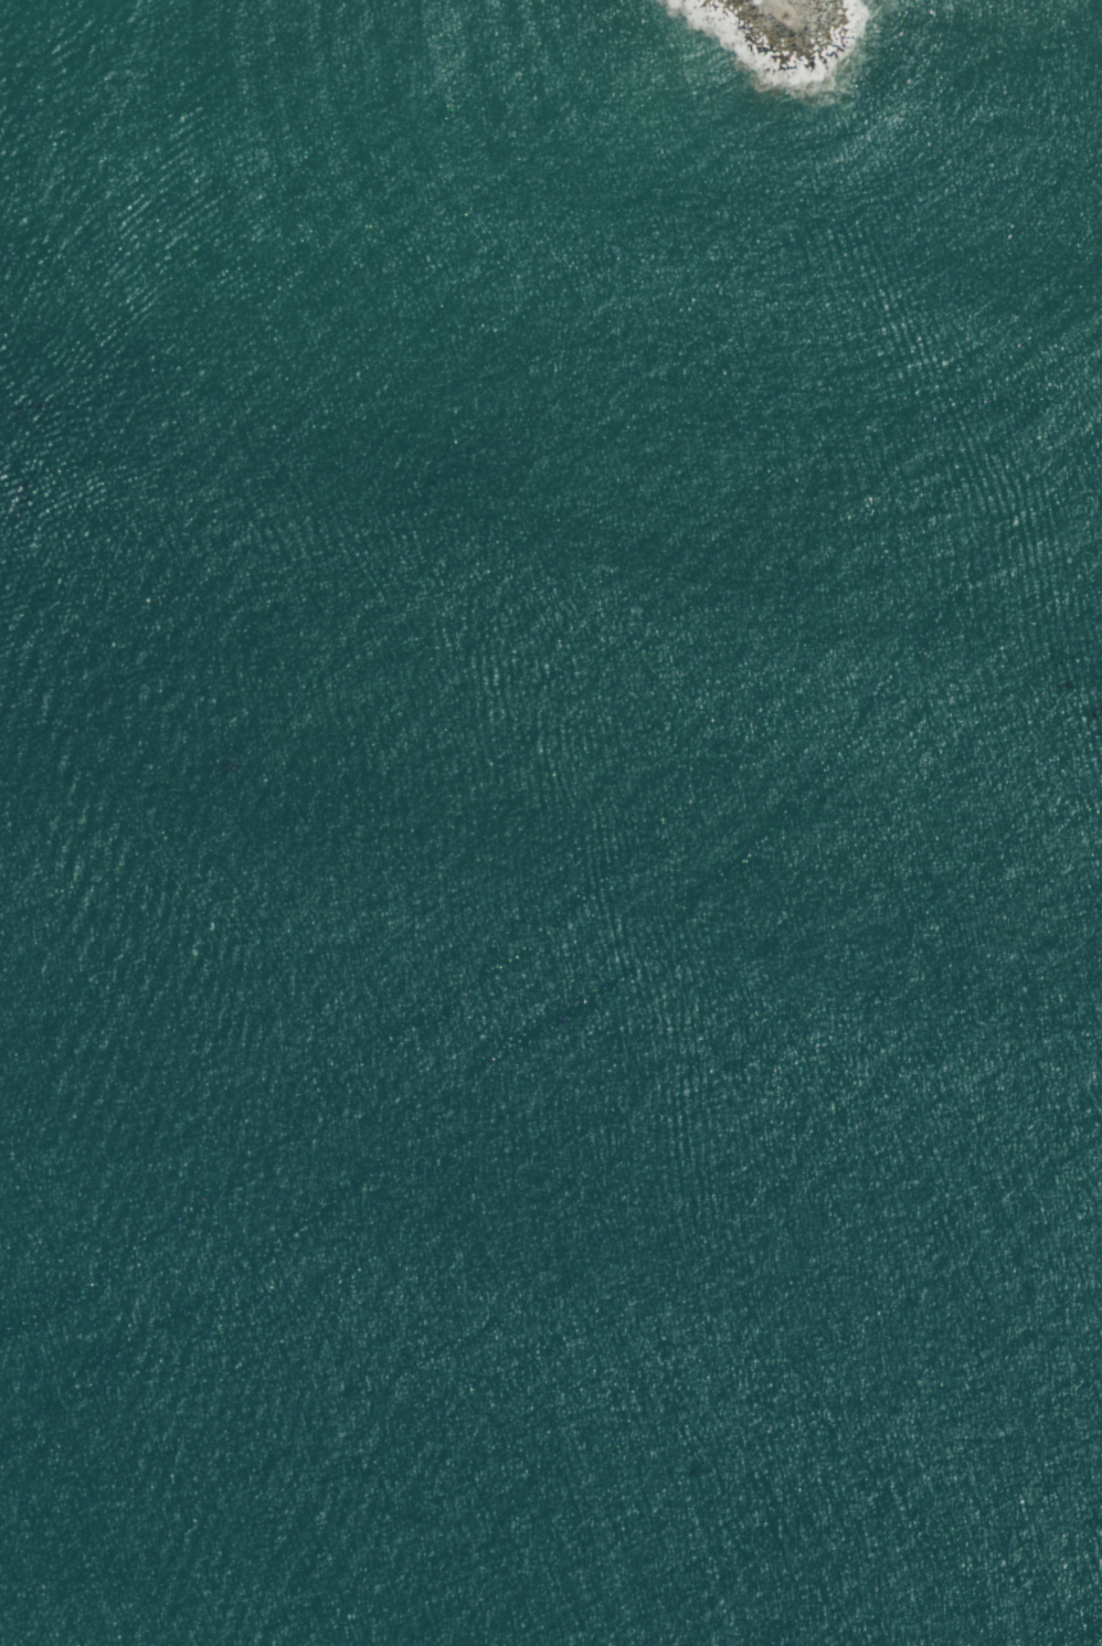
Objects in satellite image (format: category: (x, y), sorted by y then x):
road: (783, 10)

